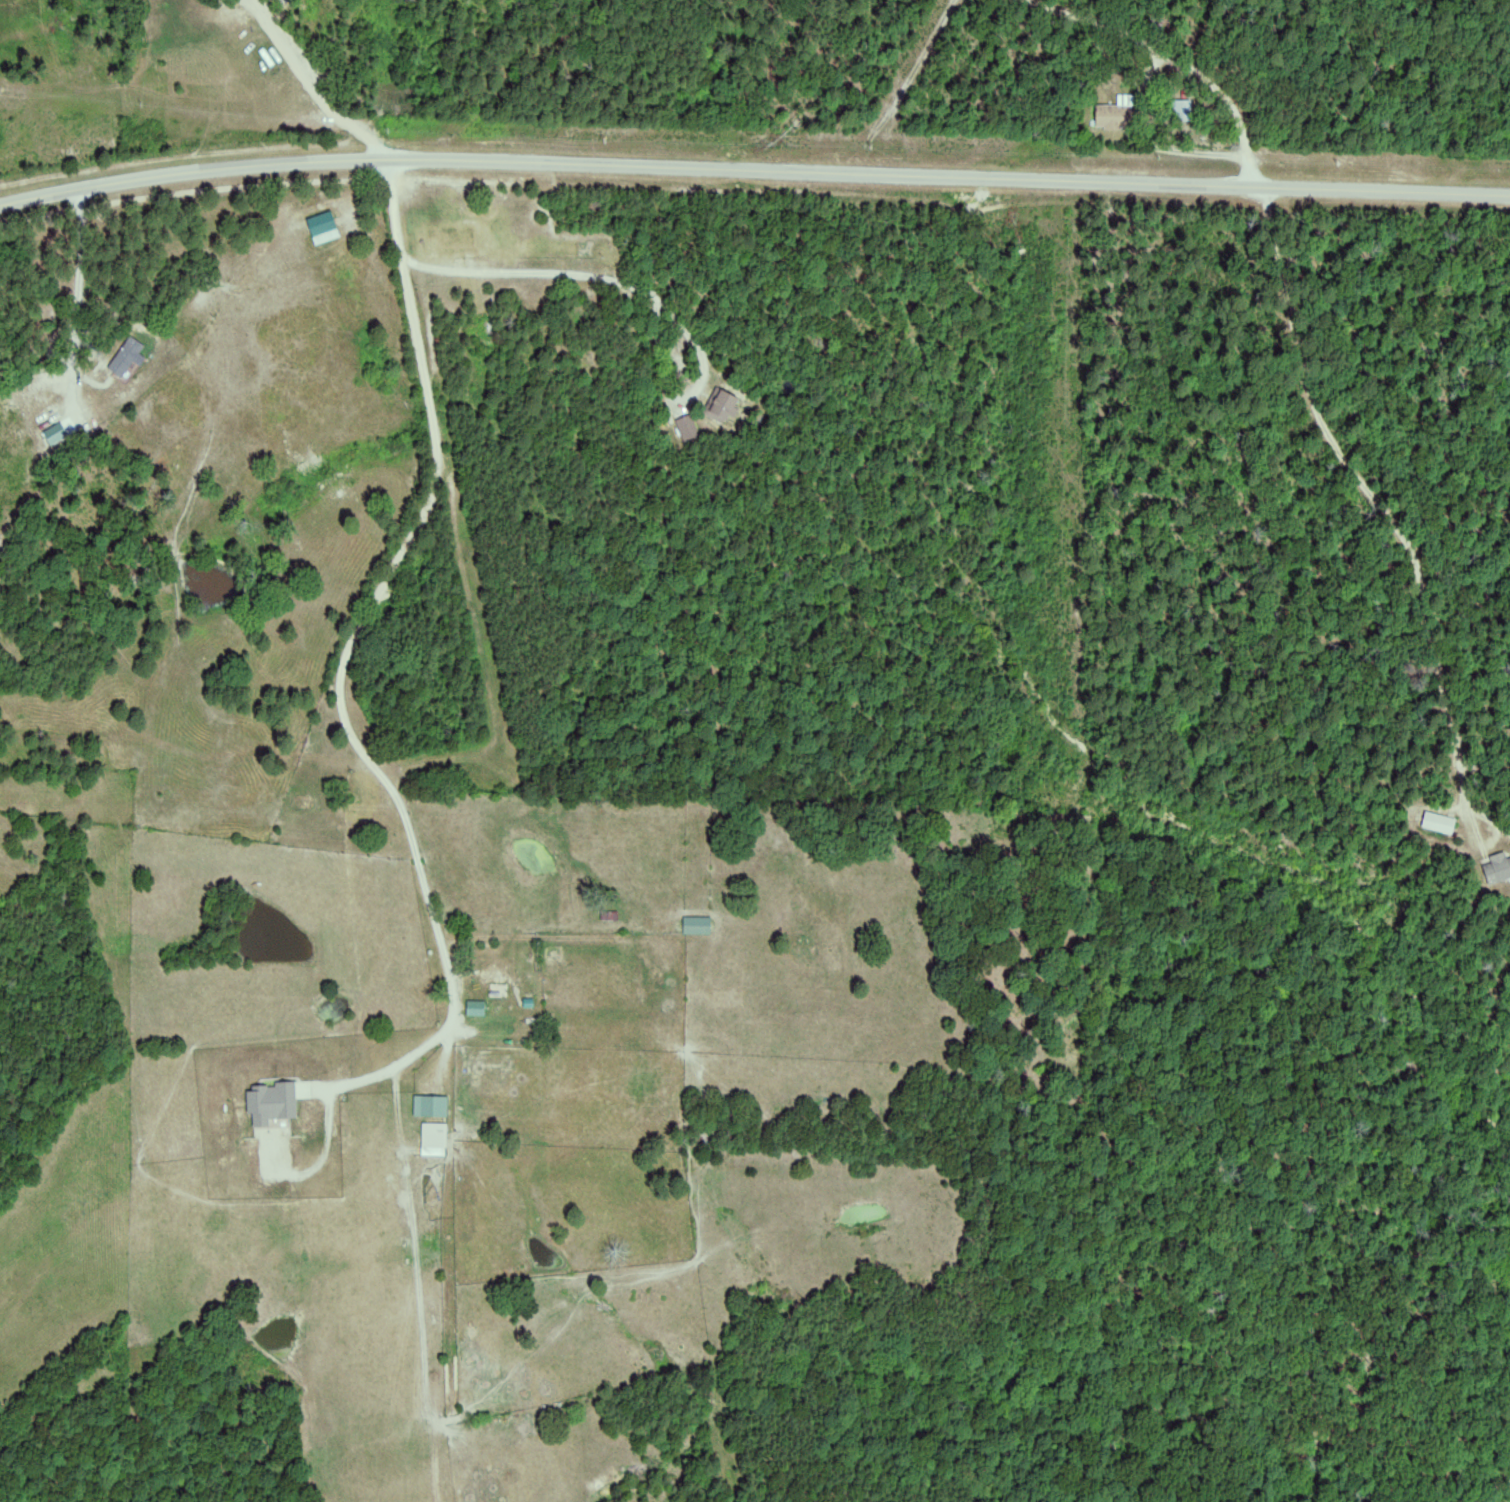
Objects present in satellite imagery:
road: (1182, 80)
building: (1183, 109)
building: (1115, 117)
road: (752, 172)
building: (323, 228)
building: (137, 355)
building: (723, 405)
building: (66, 432)
road: (296, 743)
building: (484, 1008)
building: (440, 1106)

